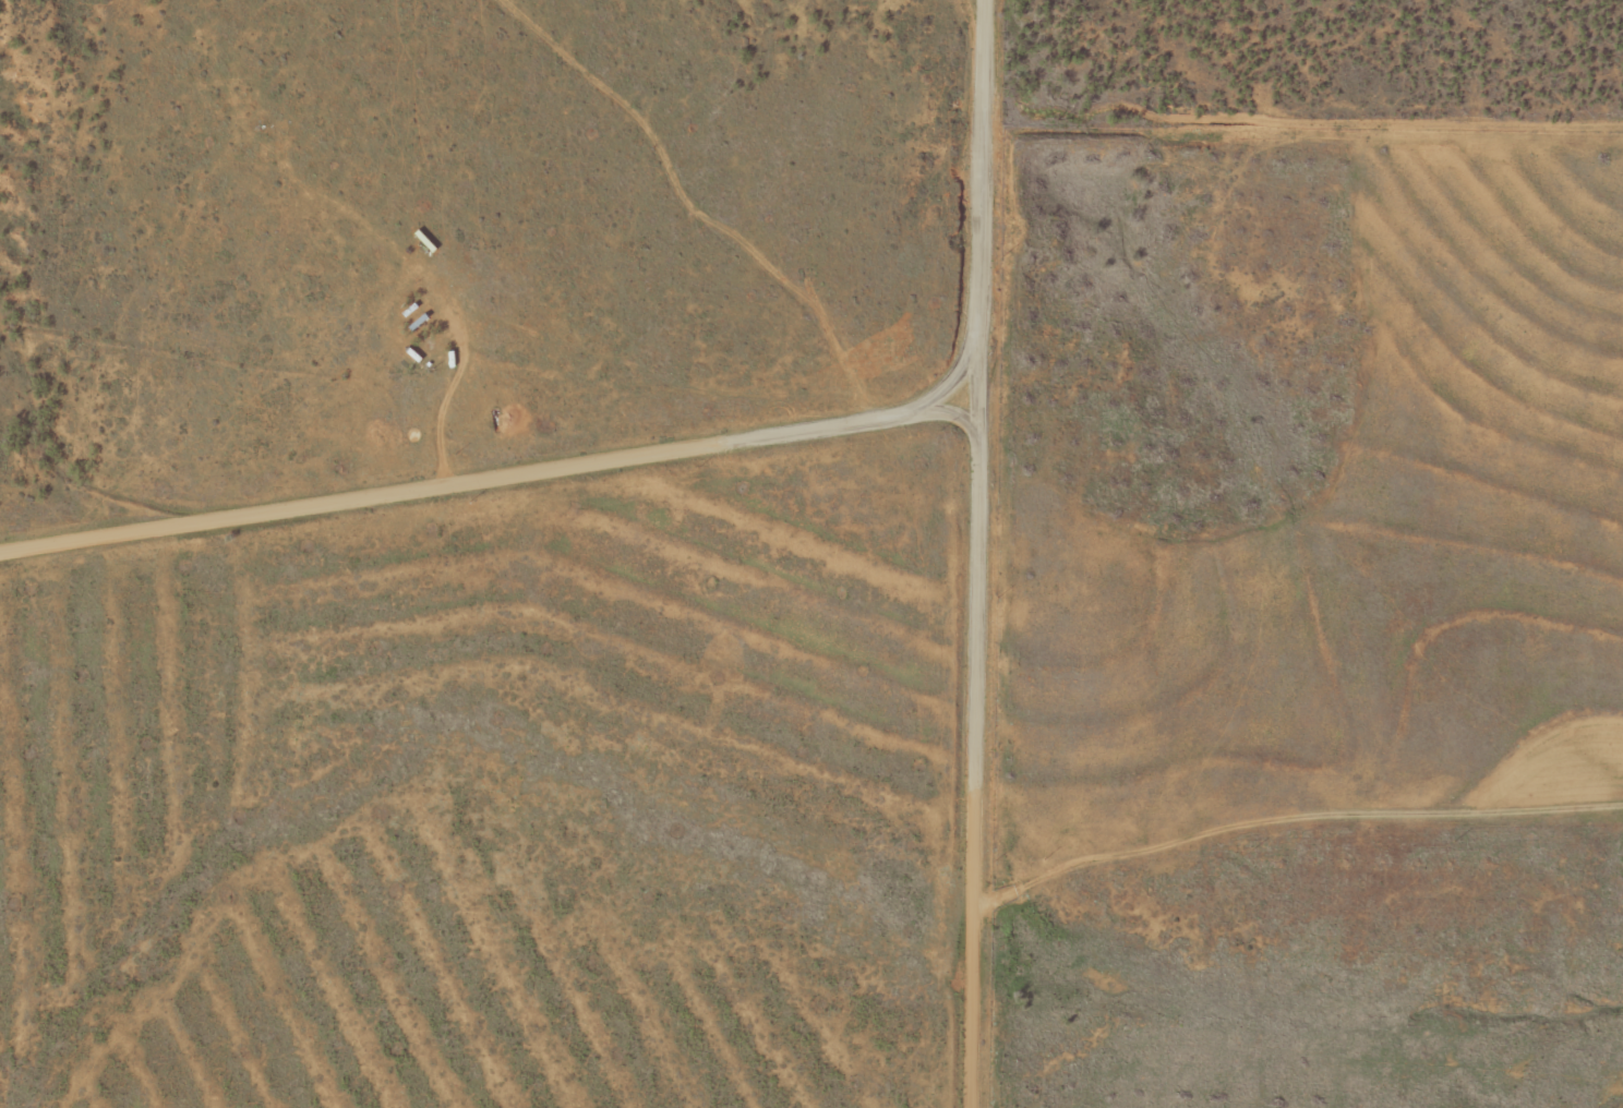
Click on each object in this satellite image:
road: (512, 443)
road: (1025, 554)
road: (1325, 841)

